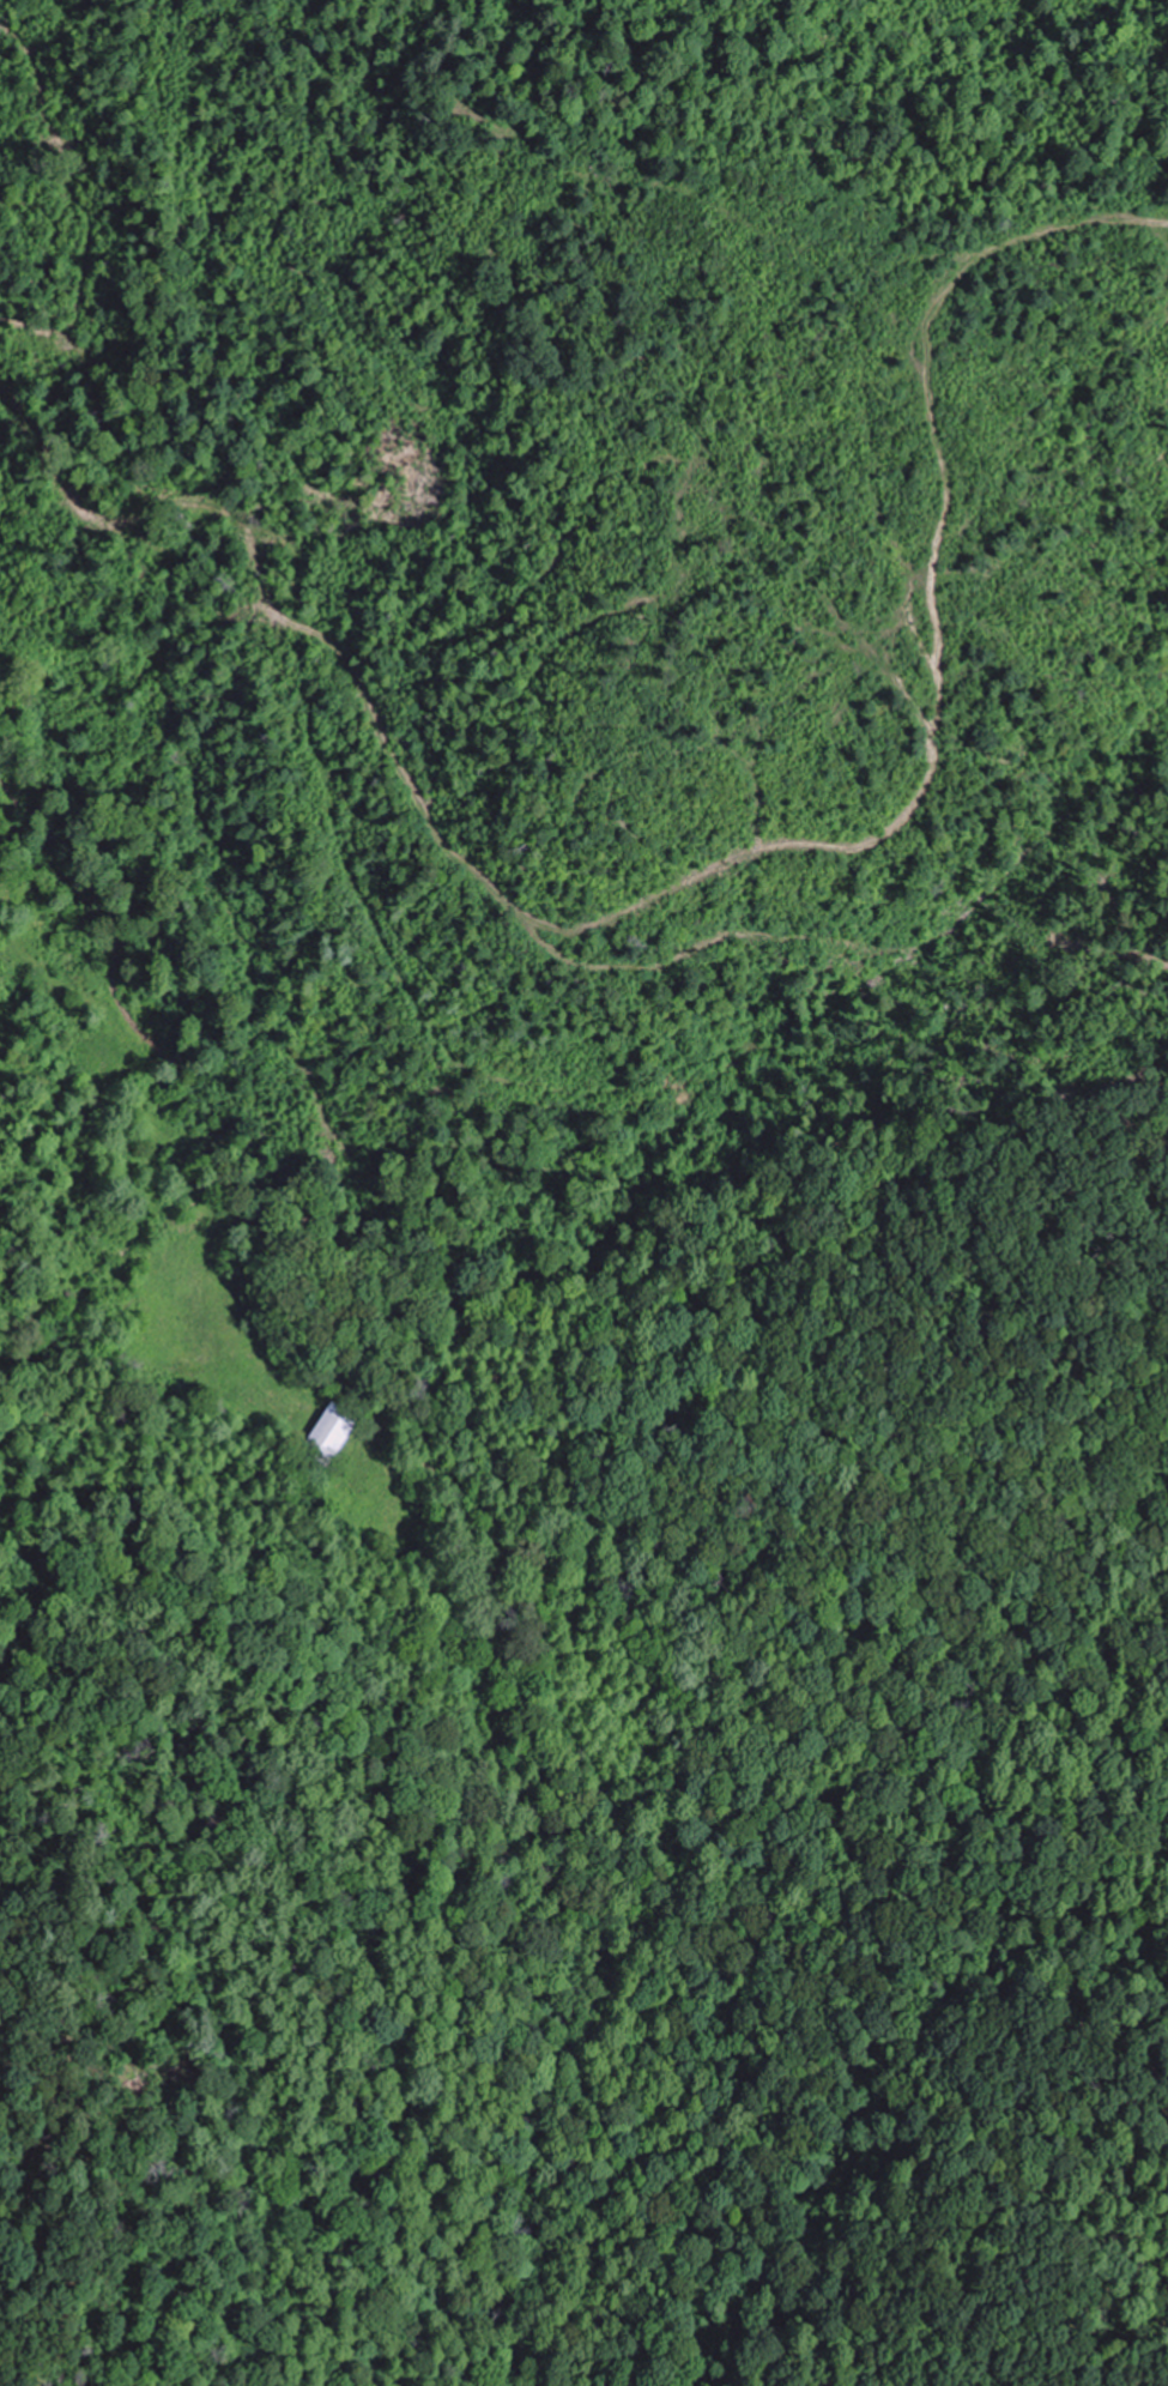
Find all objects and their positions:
building: (327, 1437)

